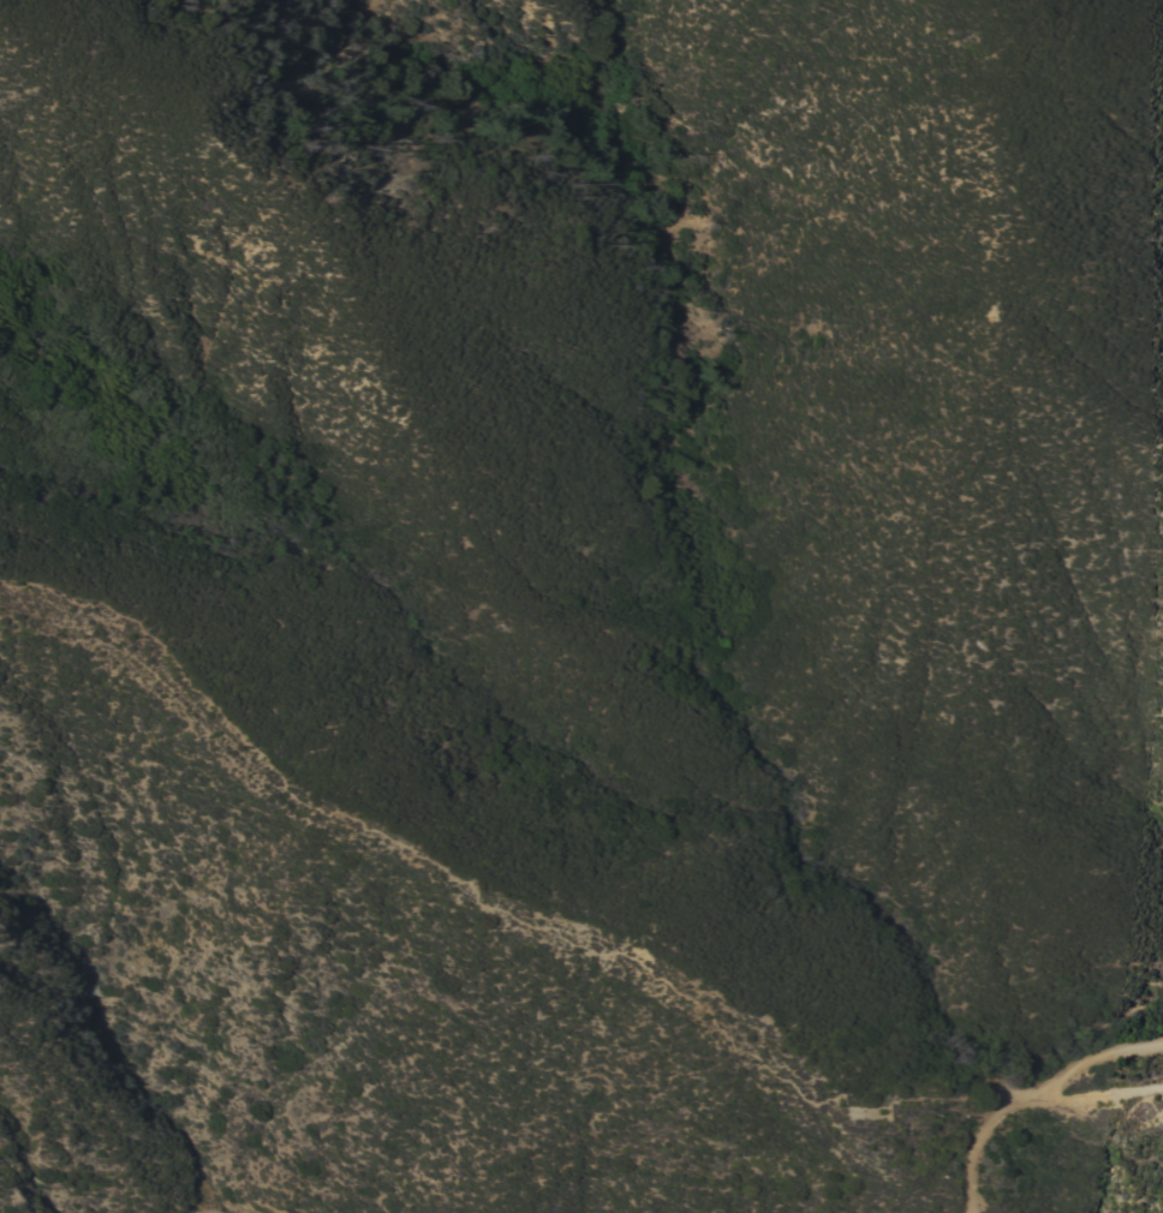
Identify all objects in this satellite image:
road: (1092, 1068)
road: (1093, 1101)
road: (978, 1146)

